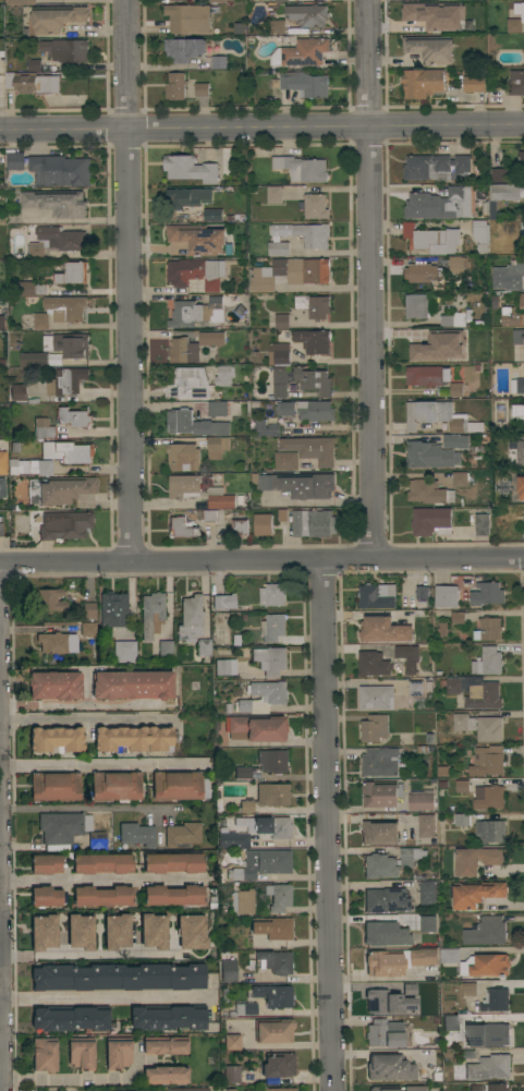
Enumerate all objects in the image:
building: (448, 0)
building: (219, 1)
building: (280, 1)
building: (19, 2)
building: (412, 13)
building: (306, 15)
building: (56, 19)
building: (187, 19)
building: (515, 19)
building: (448, 25)
building: (276, 27)
building: (24, 33)
building: (183, 49)
building: (430, 49)
building: (523, 49)
building: (65, 50)
building: (304, 52)
building: (218, 62)
building: (33, 64)
building: (31, 83)
building: (421, 83)
building: (515, 83)
building: (305, 84)
building: (473, 84)
building: (174, 86)
building: (200, 89)
road: (261, 126)
building: (520, 157)
building: (14, 160)
building: (434, 167)
building: (301, 168)
building: (188, 169)
building: (59, 170)
building: (498, 174)
building: (273, 195)
building: (501, 195)
building: (188, 197)
building: (57, 203)
building: (437, 205)
building: (314, 206)
building: (484, 210)
building: (211, 214)
building: (522, 228)
building: (479, 231)
building: (304, 233)
building: (197, 239)
building: (430, 239)
building: (56, 241)
building: (277, 248)
building: (482, 248)
building: (456, 265)
building: (195, 272)
building: (421, 272)
building: (71, 274)
building: (290, 274)
building: (509, 275)
road: (126, 279)
road: (369, 279)
building: (27, 289)
building: (521, 301)
building: (493, 302)
building: (313, 305)
building: (416, 306)
building: (65, 308)
building: (198, 312)
building: (511, 317)
building: (452, 319)
building: (39, 322)
building: (281, 322)
building: (2, 323)
building: (517, 337)
building: (313, 340)
building: (71, 344)
building: (442, 346)
building: (522, 346)
building: (192, 347)
building: (413, 351)
building: (278, 354)
building: (38, 360)
building: (476, 368)
building: (223, 376)
building: (426, 376)
building: (300, 380)
building: (188, 384)
building: (62, 386)
building: (516, 386)
building: (455, 390)
building: (17, 391)
building: (86, 399)
building: (223, 409)
building: (284, 409)
building: (315, 411)
building: (520, 413)
building: (437, 416)
building: (73, 417)
building: (193, 424)
road: (326, 427)
building: (42, 428)
building: (265, 428)
building: (454, 441)
building: (13, 447)
building: (216, 447)
building: (310, 449)
building: (520, 450)
building: (68, 451)
building: (427, 456)
building: (182, 457)
building: (3, 461)
building: (285, 461)
building: (29, 466)
building: (459, 480)
building: (296, 485)
building: (183, 486)
building: (521, 487)
building: (59, 489)
building: (428, 493)
building: (219, 499)
building: (208, 516)
building: (281, 516)
building: (430, 521)
building: (313, 523)
building: (64, 524)
building: (261, 524)
building: (482, 524)
building: (181, 528)
building: (239, 528)
building: (1, 529)
road: (261, 559)
building: (421, 593)
building: (486, 594)
building: (271, 595)
building: (376, 596)
building: (446, 596)
building: (50, 599)
building: (224, 601)
building: (403, 604)
building: (419, 604)
building: (88, 609)
building: (112, 611)
building: (151, 614)
building: (190, 618)
building: (458, 618)
building: (272, 628)
building: (88, 629)
building: (488, 629)
building: (382, 630)
building: (441, 630)
building: (57, 642)
building: (204, 646)
building: (164, 650)
building: (124, 651)
building: (405, 657)
building: (270, 659)
building: (487, 662)
building: (371, 664)
building: (226, 666)
building: (54, 684)
building: (132, 684)
building: (451, 686)
building: (415, 688)
building: (263, 696)
building: (483, 696)
building: (375, 698)
road: (86, 704)
road: (88, 719)
building: (462, 723)
building: (259, 727)
building: (373, 729)
building: (489, 729)
building: (56, 739)
building: (132, 739)
building: (428, 739)
building: (272, 761)
building: (487, 761)
building: (379, 762)
road: (106, 765)
building: (242, 772)
building: (440, 772)
building: (176, 785)
building: (441, 785)
building: (54, 786)
building: (117, 786)
building: (461, 786)
building: (380, 793)
building: (266, 797)
building: (488, 798)
building: (421, 800)
road: (90, 808)
building: (461, 820)
road: (330, 825)
building: (62, 826)
building: (425, 826)
building: (256, 832)
building: (378, 832)
building: (488, 832)
building: (183, 833)
building: (136, 834)
building: (97, 839)
road: (0, 853)
building: (476, 860)
building: (173, 862)
building: (390, 862)
building: (46, 863)
building: (102, 863)
building: (263, 863)
road: (106, 880)
building: (426, 893)
building: (475, 894)
building: (102, 895)
building: (174, 895)
building: (46, 896)
building: (279, 896)
building: (386, 899)
building: (243, 901)
road: (0, 905)
building: (182, 918)
building: (404, 919)
building: (424, 924)
building: (271, 926)
road: (1, 929)
building: (485, 931)
building: (113, 932)
building: (150, 932)
building: (40, 933)
building: (377, 933)
building: (76, 944)
road: (88, 953)
building: (451, 956)
building: (398, 960)
building: (275, 961)
building: (489, 966)
building: (228, 969)
building: (118, 977)
road: (1, 985)
building: (449, 986)
building: (410, 989)
building: (468, 990)
building: (273, 995)
road: (109, 997)
building: (493, 999)
building: (382, 1002)
building: (244, 1009)
building: (168, 1016)
building: (70, 1017)
building: (450, 1022)
building: (273, 1030)
building: (486, 1032)
building: (385, 1033)
building: (232, 1042)
building: (164, 1044)
building: (45, 1053)
building: (81, 1053)
building: (118, 1053)
building: (466, 1054)
building: (278, 1066)
building: (389, 1067)
building: (489, 1068)
building: (232, 1074)
building: (166, 1075)
road: (65, 1077)
building: (383, 1088)
building: (415, 1088)
building: (476, 1088)
building: (496, 1088)
building: (188, 1089)
building: (228, 1089)
building: (279, 1089)
building: (97, 1090)

